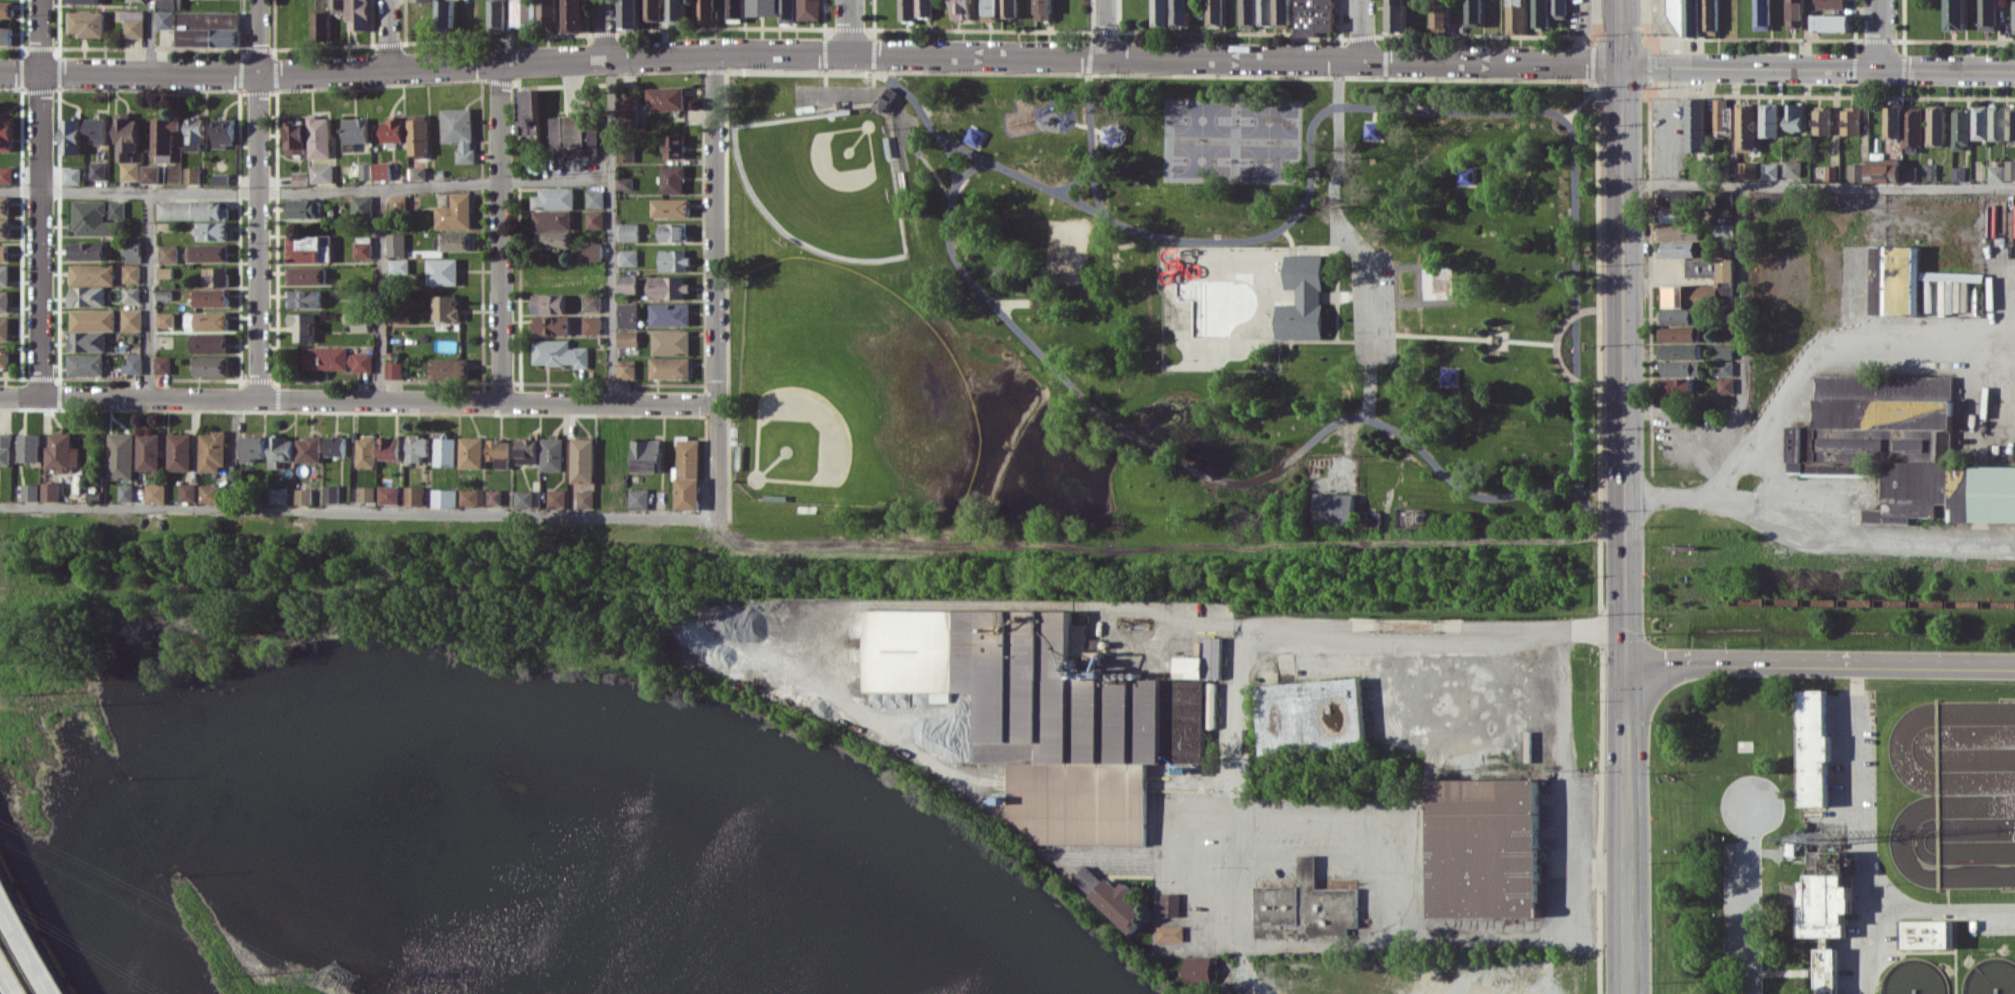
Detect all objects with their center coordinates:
building: (131, 0)
building: (425, 0)
building: (79, 1)
building: (167, 4)
building: (1830, 4)
building: (337, 6)
building: (763, 7)
building: (992, 7)
building: (734, 8)
building: (923, 8)
building: (1008, 8)
building: (5, 9)
building: (808, 9)
building: (960, 9)
building: (1042, 9)
building: (1558, 9)
building: (651, 10)
building: (786, 10)
building: (906, 10)
building: (676, 11)
building: (705, 11)
building: (523, 12)
building: (546, 12)
building: (1180, 12)
building: (1264, 12)
building: (1162, 13)
building: (1214, 13)
building: (1247, 13)
building: (1282, 13)
building: (1473, 13)
building: (1541, 13)
building: (357, 14)
building: (629, 14)
building: (1761, 14)
building: (1795, 14)
building: (1955, 14)
building: (495, 15)
building: (573, 15)
building: (1395, 15)
building: (1677, 15)
building: (1987, 15)
building: (444, 16)
building: (1313, 16)
building: (1709, 16)
building: (2013, 16)
building: (1515, 17)
building: (1440, 18)
building: (1692, 18)
building: (163, 19)
building: (1832, 22)
building: (83, 23)
building: (131, 24)
building: (319, 26)
road: (850, 27)
road: (601, 29)
road: (1102, 29)
road: (1358, 30)
building: (205, 33)
road: (385, 34)
road: (1878, 34)
building: (4, 36)
road: (149, 36)
road: (259, 37)
road: (1237, 59)
road: (554, 60)
traffic signals: (1625, 65)
road: (1820, 67)
road: (129, 72)
building: (665, 98)
building: (885, 98)
road: (1504, 105)
building: (626, 108)
building: (528, 112)
building: (1794, 117)
building: (1771, 119)
building: (1822, 120)
building: (1850, 120)
building: (1979, 122)
building: (1996, 122)
building: (2010, 122)
road: (1669, 123)
building: (1696, 124)
building: (1905, 125)
building: (1935, 125)
building: (1748, 126)
building: (93, 129)
building: (392, 129)
building: (1961, 129)
building: (354, 130)
building: (5, 132)
building: (221, 132)
building: (458, 132)
building: (192, 134)
building: (417, 134)
building: (573, 134)
building: (69, 136)
building: (123, 136)
building: (162, 136)
building: (293, 137)
building: (317, 137)
road: (1090, 139)
park: (1197, 139)
park: (1265, 140)
building: (674, 146)
building: (625, 153)
building: (1792, 168)
building: (95, 170)
building: (128, 170)
building: (381, 170)
building: (1747, 170)
building: (1769, 170)
building: (1884, 170)
building: (364, 171)
building: (2009, 171)
building: (417, 172)
building: (1856, 172)
building: (1908, 172)
building: (1996, 172)
building: (148, 173)
building: (320, 173)
building: (1830, 173)
building: (1958, 173)
building: (5, 174)
building: (69, 175)
building: (190, 175)
building: (218, 178)
building: (299, 178)
building: (673, 179)
road: (1820, 181)
park: (826, 182)
building: (624, 183)
road: (1094, 186)
road: (1044, 187)
road: (305, 189)
building: (1673, 197)
road: (41, 198)
building: (554, 198)
building: (1724, 198)
building: (595, 199)
building: (397, 202)
building: (361, 205)
building: (3, 206)
building: (671, 207)
building: (302, 208)
building: (115, 210)
building: (172, 210)
building: (211, 211)
building: (455, 212)
building: (1675, 214)
building: (90, 219)
building: (552, 219)
building: (595, 219)
building: (4, 228)
building: (211, 230)
road: (611, 230)
building: (629, 231)
building: (673, 231)
building: (1723, 231)
building: (1677, 232)
road: (496, 233)
road: (1347, 236)
road: (258, 237)
building: (554, 239)
building: (456, 241)
building: (395, 244)
building: (362, 247)
building: (131, 248)
building: (308, 248)
building: (1677, 248)
building: (86, 250)
building: (593, 251)
building: (3, 252)
building: (207, 252)
building: (166, 253)
building: (629, 257)
building: (675, 259)
building: (398, 265)
building: (1701, 267)
building: (442, 271)
building: (164, 272)
building: (130, 273)
building: (91, 274)
building: (4, 275)
building: (305, 275)
building: (215, 276)
building: (1892, 278)
road: (717, 281)
building: (627, 284)
building: (669, 287)
park: (1172, 287)
building: (1713, 288)
building: (130, 294)
road: (148, 294)
road: (379, 295)
building: (87, 296)
building: (1673, 296)
road: (1741, 296)
building: (210, 297)
building: (303, 298)
building: (1299, 298)
building: (4, 300)
building: (592, 302)
building: (549, 303)
parking lot: (1373, 304)
building: (446, 307)
building: (670, 314)
building: (628, 315)
building: (1678, 317)
building: (92, 319)
building: (130, 319)
building: (164, 320)
building: (206, 321)
building: (357, 321)
building: (592, 324)
building: (552, 325)
building: (302, 326)
building: (4, 328)
building: (1678, 334)
building: (1726, 334)
building: (628, 338)
building: (90, 340)
road: (1511, 340)
building: (671, 342)
building: (209, 343)
road: (1494, 346)
building: (1678, 351)
building: (1723, 351)
building: (560, 353)
building: (3, 357)
building: (336, 359)
building: (85, 364)
building: (132, 364)
building: (161, 364)
building: (211, 365)
building: (1680, 367)
building: (1724, 367)
building: (450, 368)
building: (670, 368)
building: (626, 369)
building: (393, 370)
road: (1795, 378)
road: (1581, 380)
building: (1675, 385)
building: (1725, 385)
park: (841, 391)
road: (359, 400)
road: (1684, 409)
building: (335, 445)
building: (29, 447)
building: (5, 448)
building: (254, 448)
building: (391, 448)
building: (1897, 448)
building: (309, 449)
building: (417, 449)
building: (445, 449)
building: (281, 450)
building: (528, 450)
building: (62, 451)
building: (149, 451)
building: (180, 451)
building: (212, 451)
building: (366, 451)
building: (472, 452)
building: (500, 452)
building: (552, 453)
road: (1160, 454)
road: (234, 455)
building: (647, 455)
building: (121, 456)
building: (583, 460)
building: (51, 491)
building: (31, 492)
building: (126, 492)
building: (188, 492)
building: (156, 493)
building: (210, 493)
building: (331, 493)
building: (367, 494)
building: (388, 494)
building: (279, 495)
building: (415, 495)
building: (304, 496)
building: (473, 497)
building: (494, 497)
road: (1628, 497)
building: (444, 498)
building: (526, 498)
building: (557, 498)
building: (639, 498)
building: (586, 499)
building: (1331, 507)
road: (359, 510)
building: (1366, 518)
road: (1172, 526)
road: (1865, 537)
railway: (1838, 601)
road: (1196, 622)
road: (1388, 641)
traffic signals: (1629, 660)
road: (1822, 661)
road: (55, 680)
river: (568, 708)
building: (1312, 710)
building: (1040, 711)
building: (1811, 749)
road: (1372, 810)
wastewater plant: (1823, 812)
road: (1768, 817)
road: (1859, 840)
building: (1480, 849)
road: (1147, 855)
road: (1603, 866)
road: (1577, 875)
building: (1084, 878)
building: (1821, 894)
building: (1304, 902)
building: (1169, 903)
building: (1113, 904)
road: (1937, 910)
road: (1747, 911)
parking lot: (1734, 917)
building: (1926, 932)
building: (1169, 933)
road: (31, 934)
road: (1953, 952)
building: (1821, 965)
road: (15, 966)
building: (1195, 968)
road: (1250, 971)
road: (1780, 971)
power tower: (338, 976)

